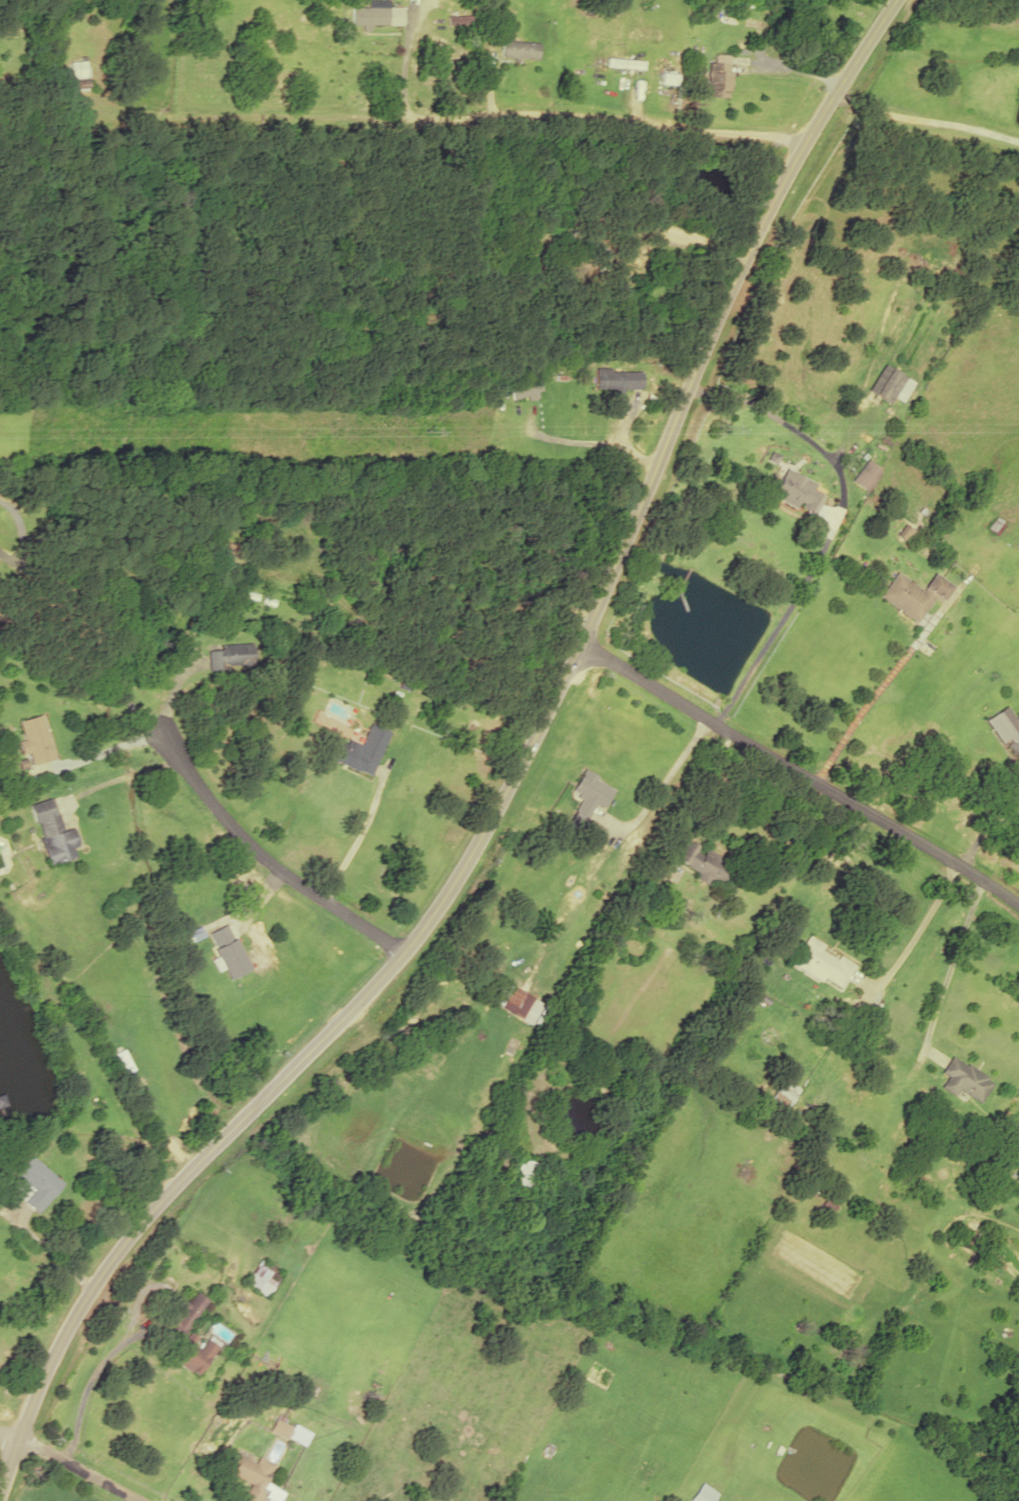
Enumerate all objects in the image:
building: (374, 14)
building: (519, 49)
building: (625, 63)
building: (78, 68)
building: (719, 74)
road: (529, 115)
building: (617, 378)
building: (889, 383)
building: (524, 386)
building: (863, 474)
building: (796, 491)
building: (912, 594)
building: (227, 655)
building: (1006, 730)
building: (35, 739)
building: (355, 754)
road: (799, 774)
road: (509, 786)
building: (586, 805)
building: (53, 832)
road: (265, 857)
building: (703, 863)
building: (229, 950)
building: (821, 962)
building: (519, 1004)
building: (962, 1079)
building: (784, 1094)
building: (524, 1175)
building: (35, 1183)
building: (970, 1241)
building: (262, 1277)
building: (183, 1318)
building: (192, 1353)
building: (289, 1431)
road: (7, 1439)
road: (77, 1469)
building: (251, 1476)
building: (702, 1494)

